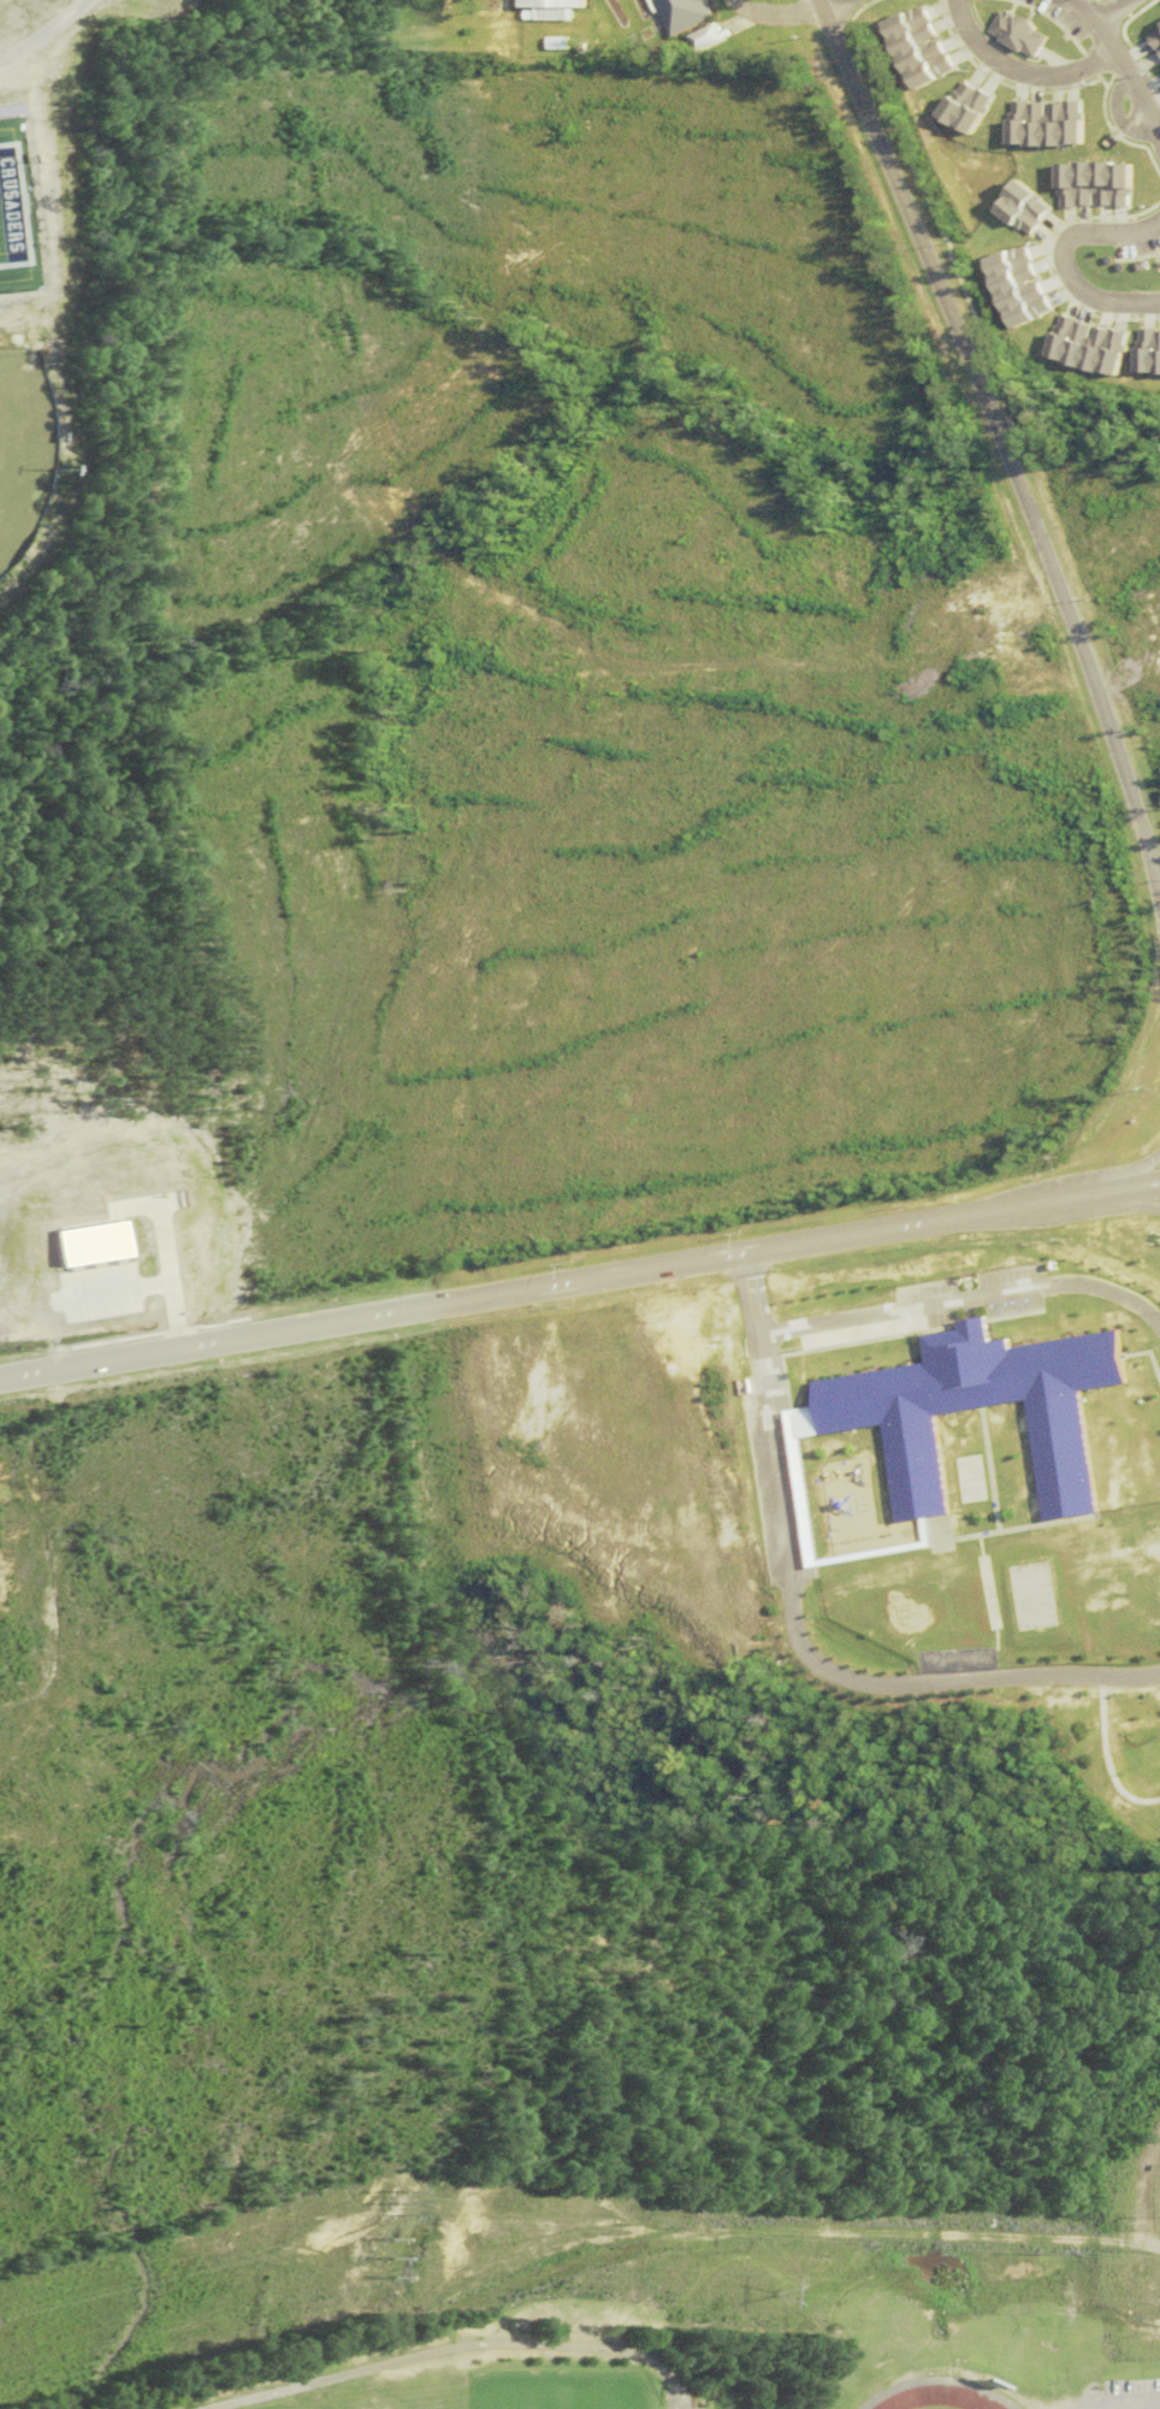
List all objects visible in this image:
building: (552, 4)
road: (834, 7)
road: (1103, 12)
building: (680, 14)
road: (774, 14)
road: (40, 31)
building: (704, 39)
road: (1117, 70)
road: (1012, 71)
park: (8, 206)
road: (1057, 259)
park: (18, 437)
road: (996, 447)
road: (1123, 1180)
road: (1125, 1200)
road: (579, 1281)
flagpole: (969, 1282)
road: (921, 1307)
power tower: (391, 2259)
power tower: (775, 2293)
road: (442, 2352)
park: (481, 2368)
road: (676, 2393)
park: (554, 2397)
track: (933, 2398)
road: (1124, 2398)

